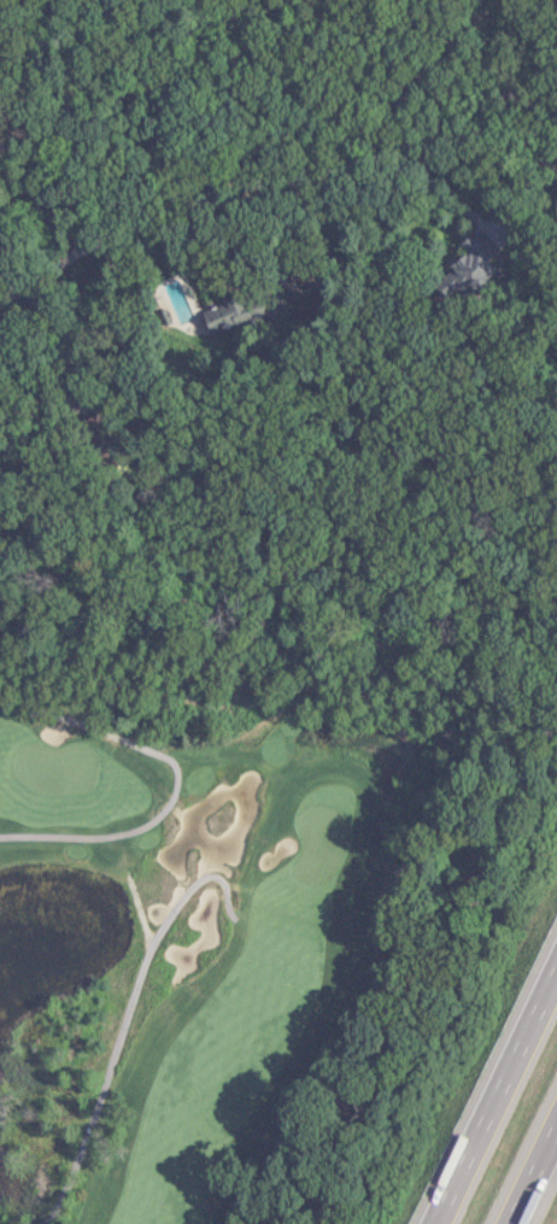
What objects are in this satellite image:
road: (541, 7)
road: (271, 186)
road: (450, 194)
building: (486, 247)
building: (221, 320)
road: (61, 336)
park: (52, 767)
road: (170, 781)
park: (317, 843)
road: (137, 915)
park: (277, 930)
road: (149, 933)
road: (125, 1018)
road: (491, 1085)
road: (529, 1167)

